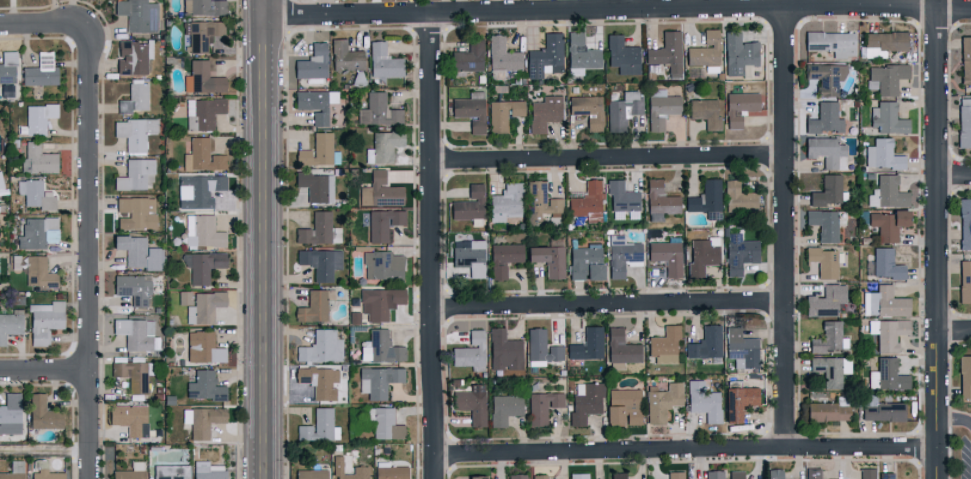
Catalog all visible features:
building: (207, 7)
road: (259, 7)
road: (265, 7)
road: (616, 7)
building: (138, 14)
road: (32, 29)
building: (203, 34)
building: (831, 42)
building: (884, 43)
building: (667, 52)
building: (706, 52)
building: (503, 54)
building: (581, 54)
building: (622, 55)
building: (740, 55)
building: (133, 56)
building: (346, 56)
building: (546, 56)
building: (468, 58)
building: (965, 59)
building: (384, 61)
building: (313, 62)
building: (7, 66)
building: (40, 70)
building: (497, 73)
building: (826, 77)
building: (886, 77)
building: (202, 78)
building: (134, 97)
building: (316, 103)
building: (625, 107)
building: (739, 107)
building: (661, 108)
building: (379, 110)
building: (471, 110)
building: (589, 110)
building: (204, 111)
building: (545, 112)
building: (705, 112)
building: (504, 113)
building: (825, 118)
building: (887, 118)
building: (34, 119)
building: (964, 122)
building: (134, 132)
building: (386, 143)
building: (317, 150)
building: (826, 151)
building: (882, 154)
building: (204, 155)
building: (38, 158)
road: (606, 160)
road: (953, 173)
building: (136, 175)
building: (1, 181)
building: (316, 186)
building: (198, 189)
building: (827, 190)
building: (888, 192)
building: (35, 193)
building: (738, 197)
building: (706, 198)
building: (542, 201)
building: (588, 201)
building: (623, 201)
building: (659, 201)
building: (506, 202)
building: (469, 203)
building: (137, 212)
building: (383, 223)
building: (887, 223)
building: (965, 223)
building: (823, 224)
road: (783, 227)
building: (319, 229)
building: (37, 231)
building: (204, 231)
road: (936, 239)
road: (431, 244)
road: (265, 246)
road: (90, 247)
building: (139, 252)
building: (740, 253)
building: (703, 254)
building: (623, 255)
building: (667, 256)
building: (469, 257)
building: (527, 258)
building: (824, 261)
building: (321, 262)
building: (586, 262)
building: (382, 264)
building: (887, 264)
building: (203, 265)
building: (39, 272)
building: (964, 280)
building: (133, 288)
building: (184, 297)
building: (825, 301)
building: (380, 302)
building: (884, 302)
building: (315, 305)
building: (204, 307)
road: (607, 307)
building: (45, 321)
building: (10, 323)
road: (953, 328)
building: (888, 332)
building: (137, 333)
building: (830, 337)
building: (706, 343)
building: (588, 344)
building: (664, 345)
building: (322, 346)
building: (203, 347)
building: (381, 347)
building: (542, 348)
building: (741, 348)
building: (504, 351)
building: (471, 352)
building: (831, 370)
road: (45, 372)
building: (133, 373)
building: (887, 375)
building: (964, 375)
building: (378, 380)
building: (321, 381)
building: (204, 386)
building: (662, 400)
building: (704, 400)
building: (586, 401)
building: (738, 401)
building: (471, 405)
building: (543, 406)
building: (623, 407)
building: (505, 408)
building: (882, 409)
building: (827, 412)
building: (10, 413)
building: (42, 413)
building: (130, 418)
road: (954, 418)
building: (201, 420)
building: (385, 423)
building: (319, 426)
road: (45, 451)
road: (685, 451)
building: (360, 469)
building: (14, 470)
building: (207, 470)
building: (44, 471)
building: (130, 471)
building: (170, 471)
building: (391, 472)
building: (775, 473)
building: (813, 473)
building: (867, 473)
building: (309, 474)
building: (714, 474)
building: (736, 474)
building: (578, 475)
building: (618, 475)
building: (675, 475)
building: (886, 475)
building: (517, 476)
building: (540, 476)
building: (475, 477)

